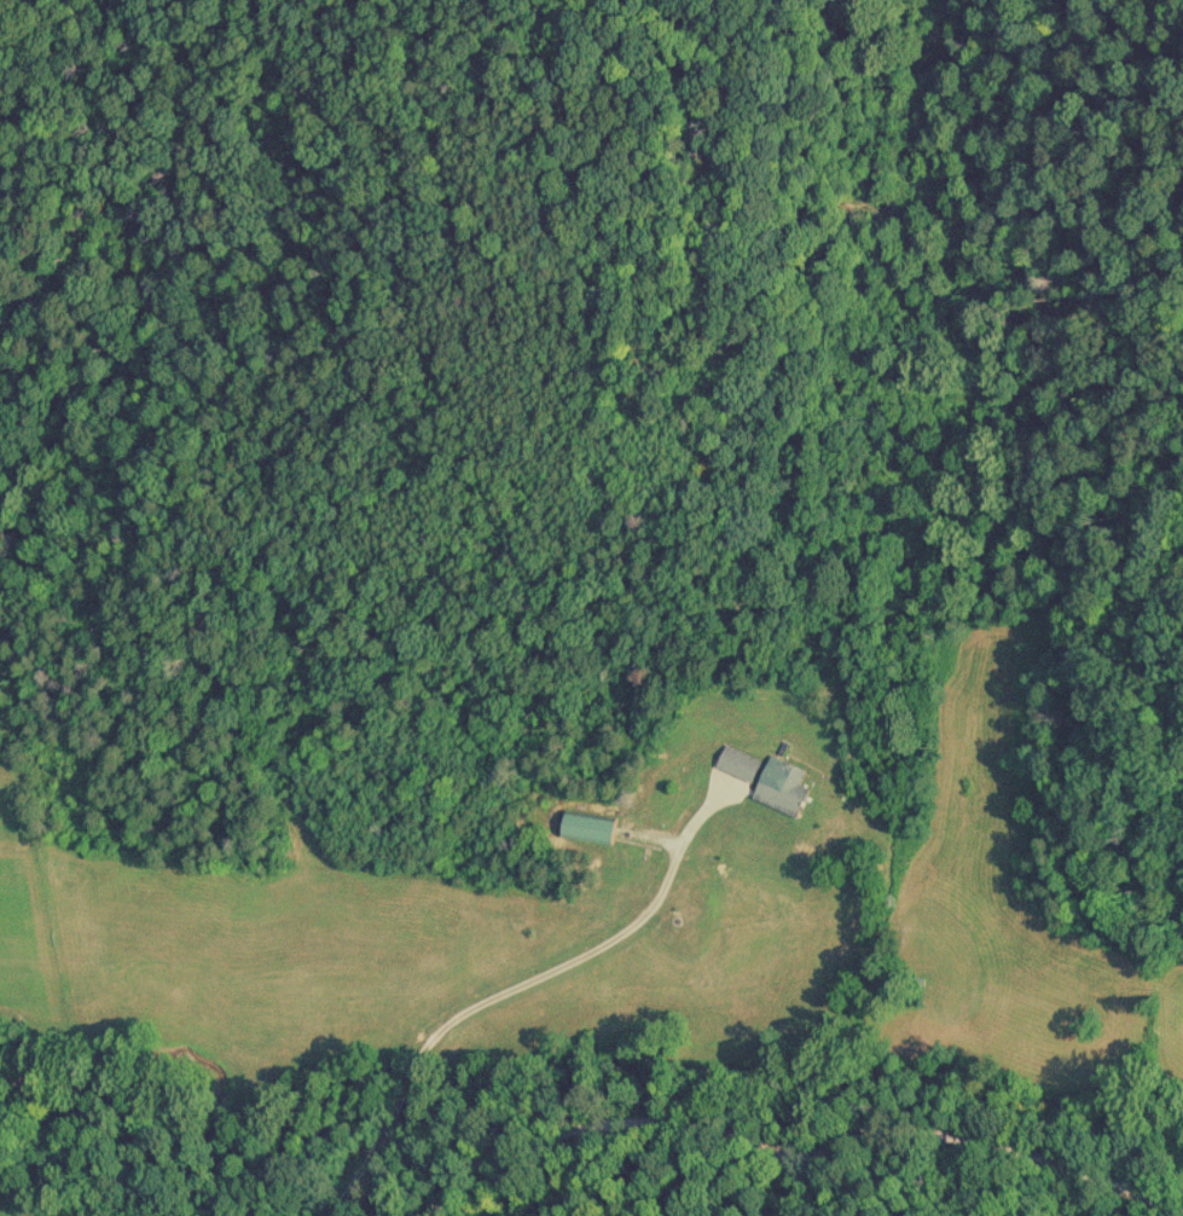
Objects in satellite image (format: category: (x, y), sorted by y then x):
road: (493, 974)
road: (777, 1124)
road: (65, 1206)

